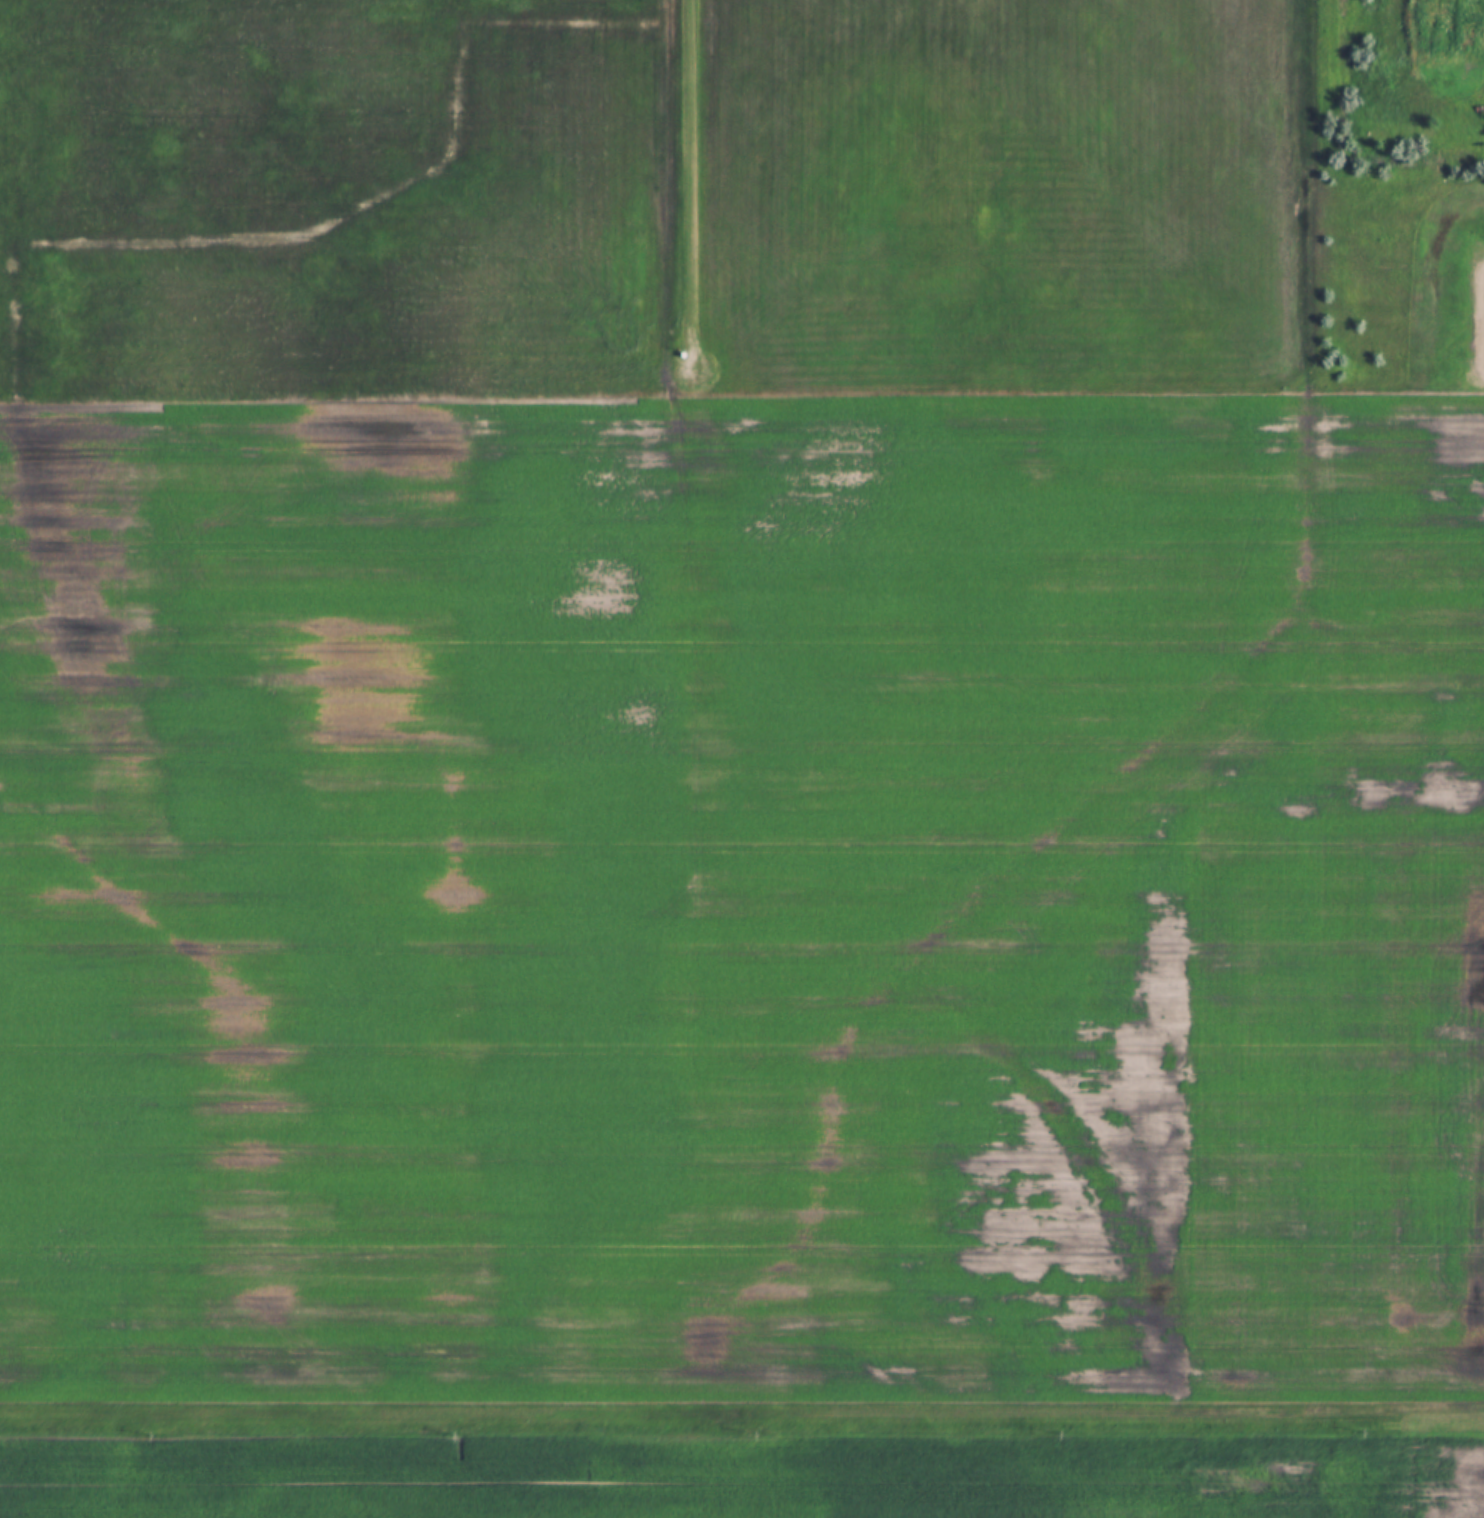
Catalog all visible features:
crop: (718, 711)
crop: (739, 1478)

